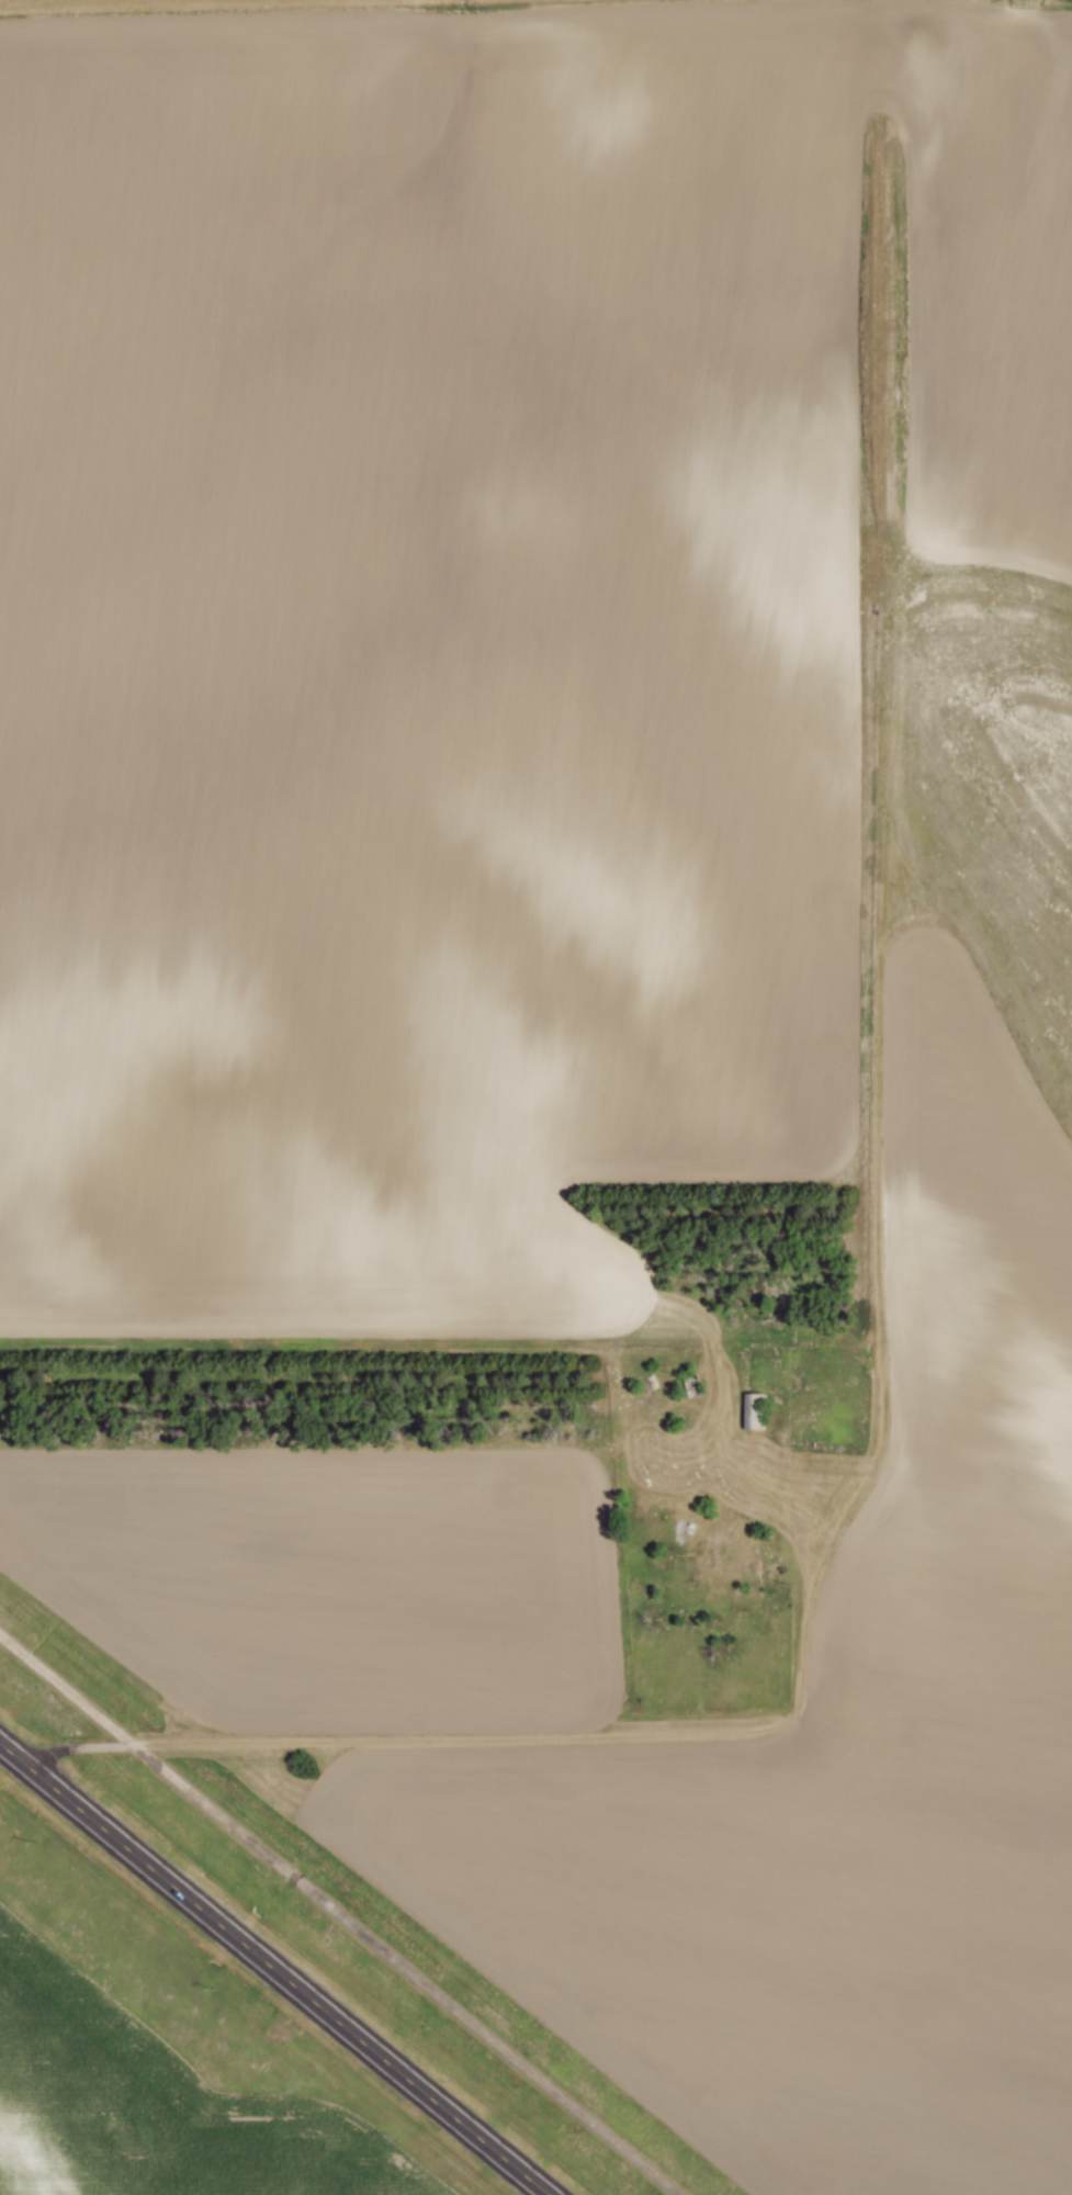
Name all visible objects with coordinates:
building: (751, 1414)
road: (810, 1571)
road: (386, 1742)
road: (343, 1912)
road: (275, 1968)

